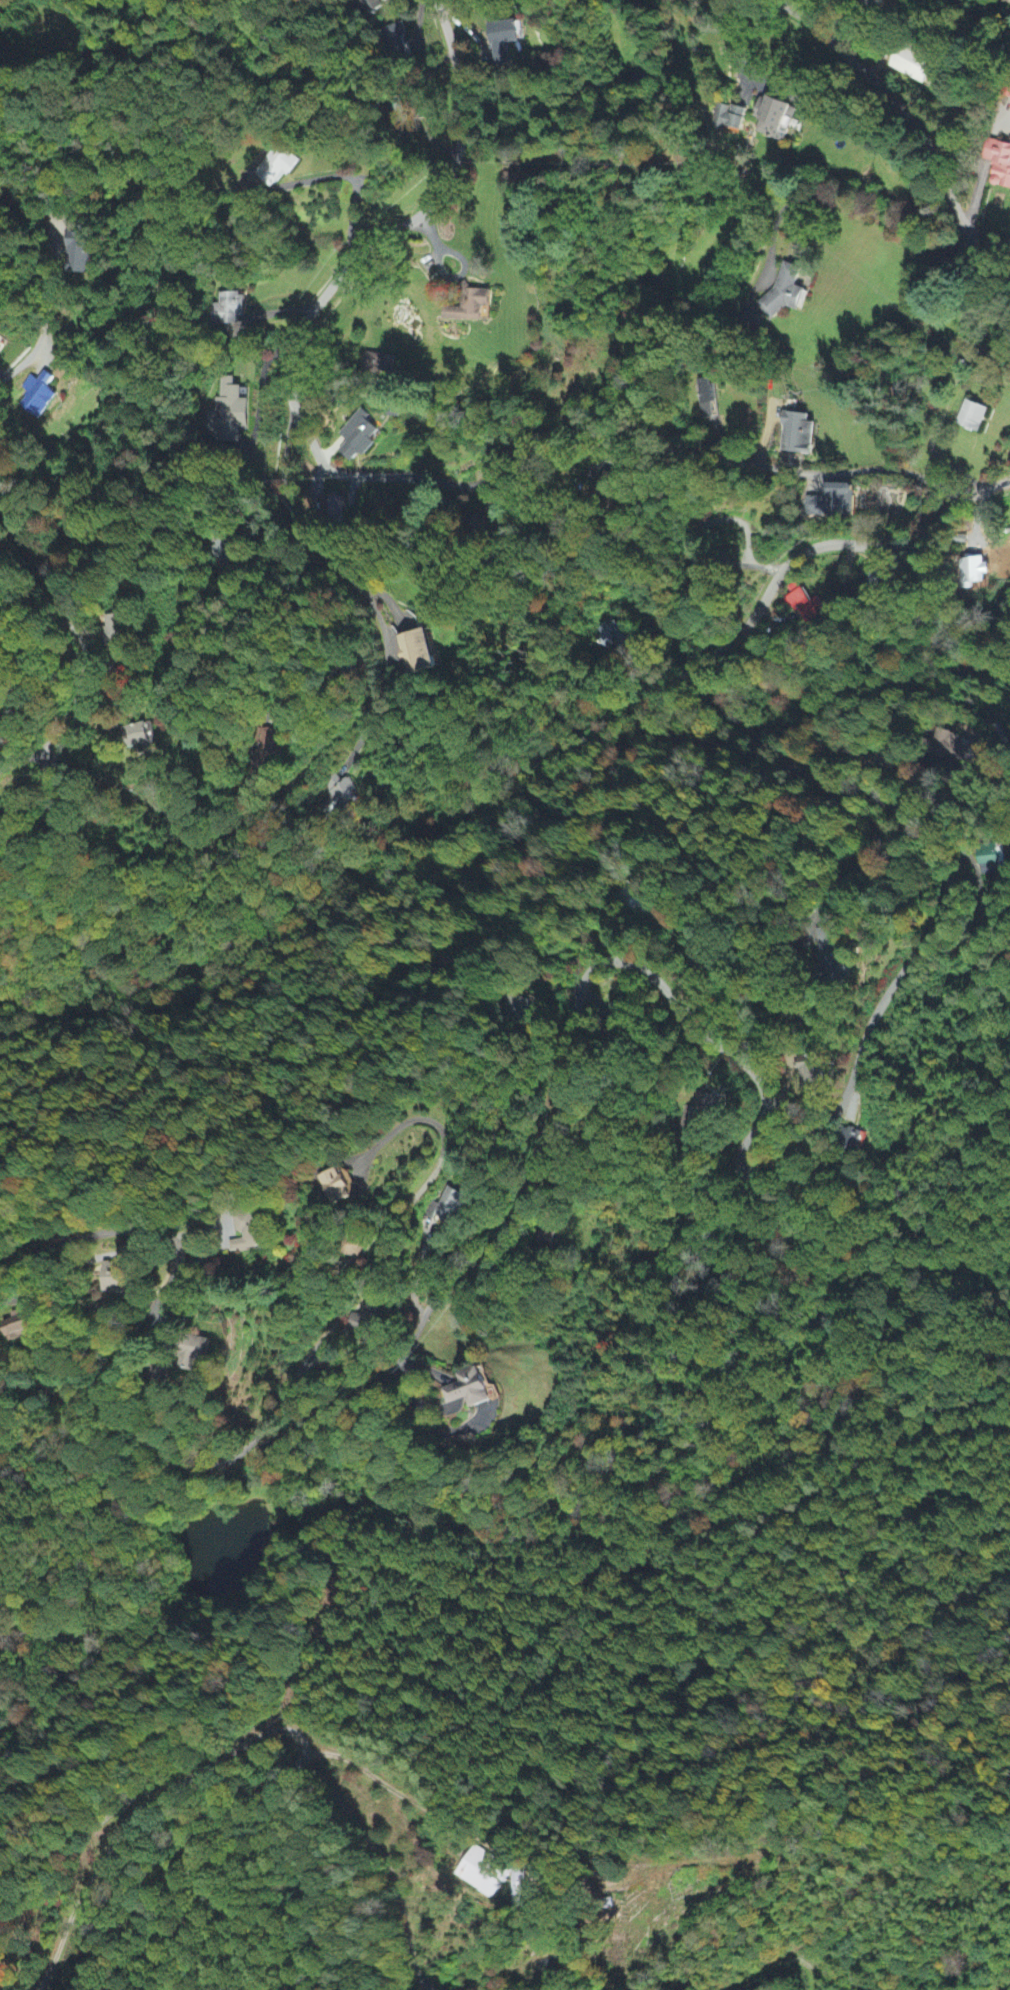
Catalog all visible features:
building: (503, 35)
building: (914, 64)
building: (776, 119)
building: (730, 120)
road: (880, 143)
building: (278, 165)
building: (1001, 167)
road: (409, 220)
building: (86, 255)
building: (786, 291)
building: (471, 307)
building: (228, 310)
road: (45, 316)
building: (380, 362)
building: (229, 414)
building: (972, 416)
road: (602, 435)
building: (798, 435)
building: (841, 501)
building: (878, 579)
building: (804, 605)
road: (82, 646)
building: (416, 646)
road: (845, 701)
road: (74, 733)
building: (141, 737)
road: (321, 759)
road: (47, 774)
building: (994, 860)
road: (694, 963)
road: (774, 999)
road: (442, 1157)
road: (785, 1159)
road: (960, 1181)
building: (335, 1186)
building: (449, 1208)
building: (247, 1235)
road: (173, 1242)
building: (115, 1279)
building: (363, 1319)
road: (329, 1329)
building: (471, 1389)
road: (259, 1734)
building: (483, 1871)
road: (775, 1961)

